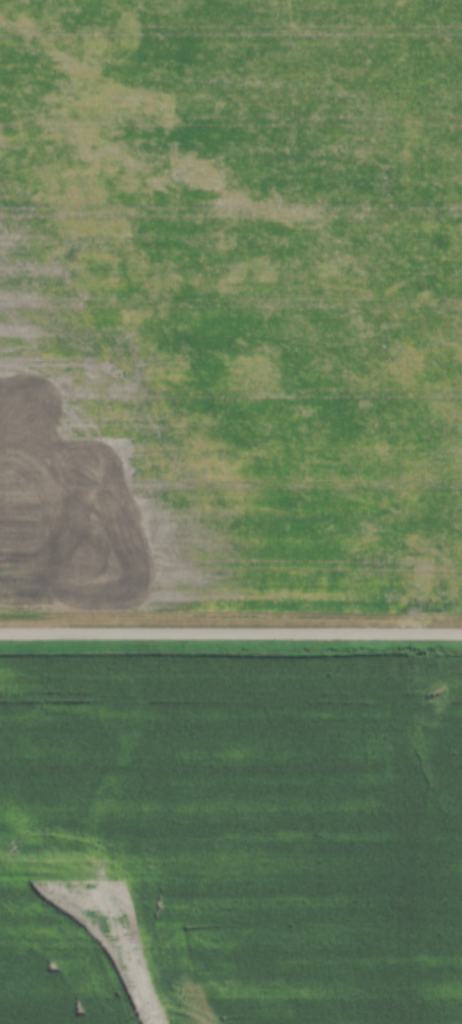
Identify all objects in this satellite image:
road: (231, 628)

